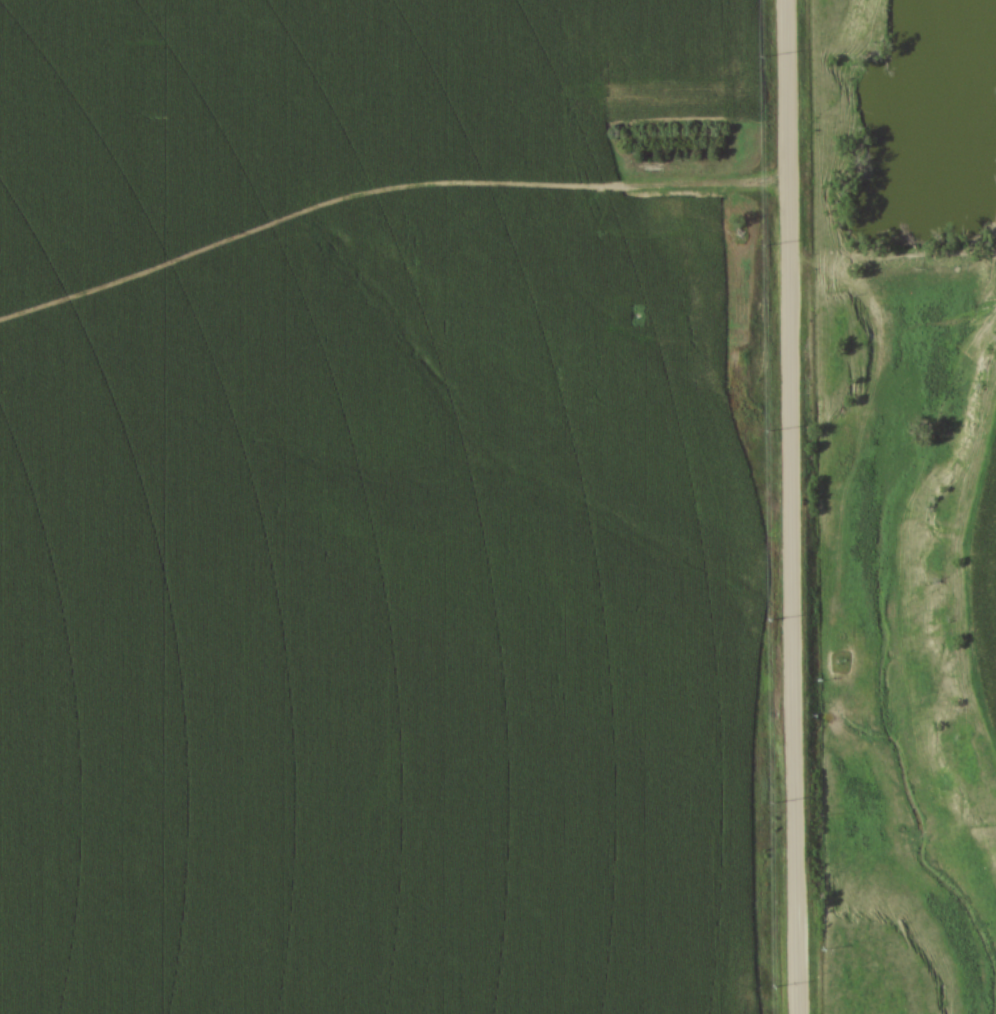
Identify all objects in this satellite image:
road: (793, 507)

